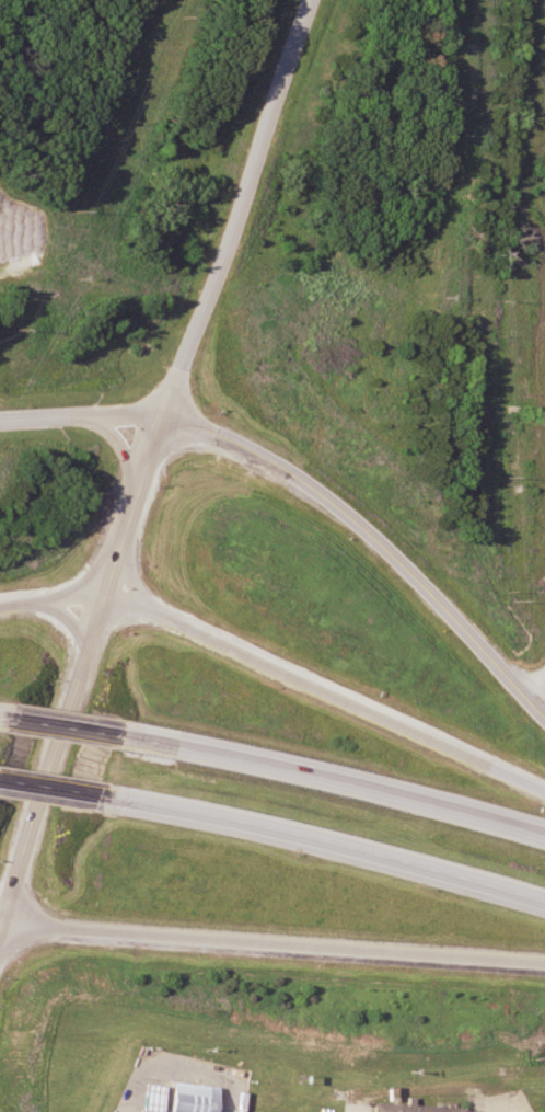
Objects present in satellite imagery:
building: (537, 203)
park: (424, 249)
road: (218, 274)
building: (514, 329)
road: (313, 489)
building: (515, 514)
road: (123, 572)
road: (57, 603)
road: (79, 621)
road: (328, 693)
road: (70, 727)
road: (60, 760)
road: (344, 781)
road: (63, 793)
road: (338, 846)
road: (3, 926)
road: (3, 937)
road: (276, 945)
building: (198, 1098)
building: (155, 1099)
building: (415, 1109)

